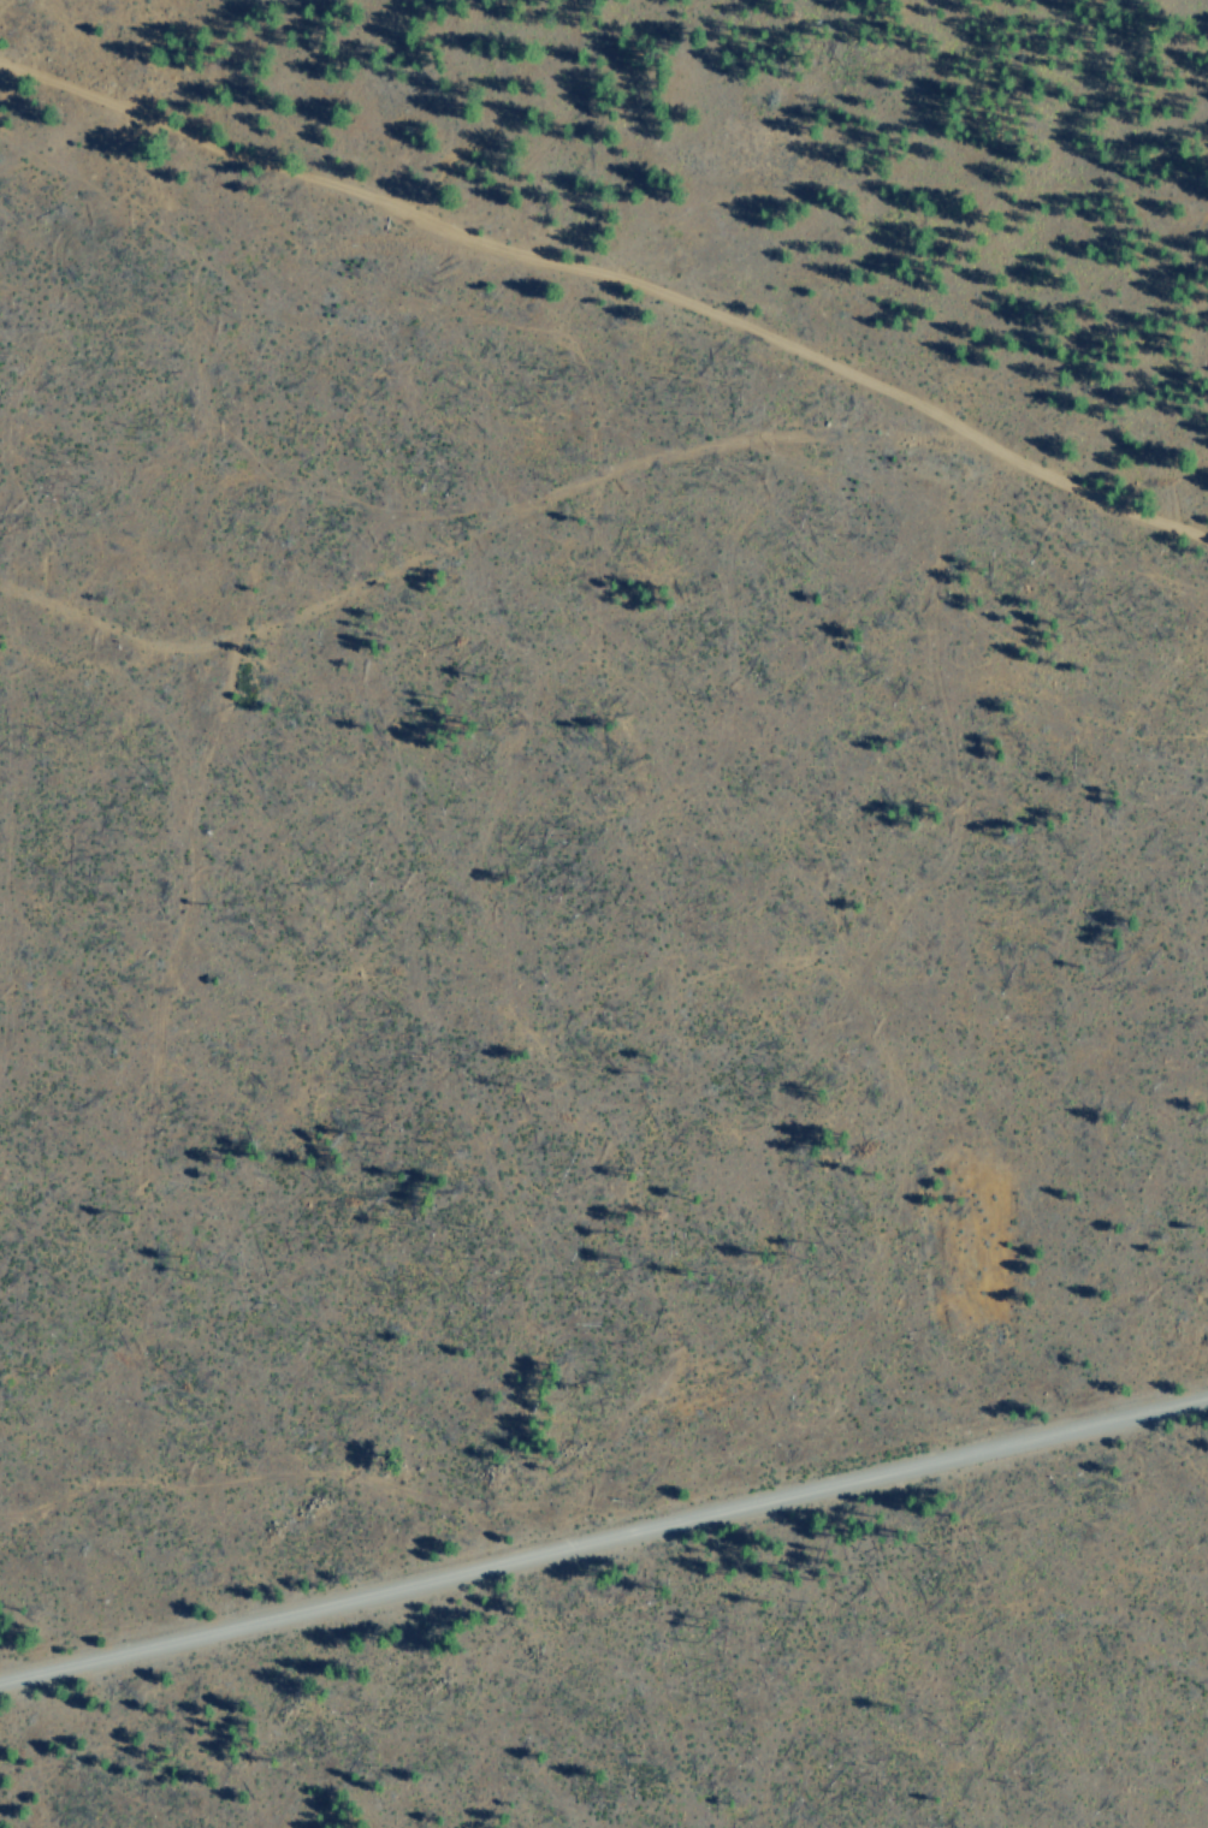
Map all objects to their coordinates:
road: (610, 485)
road: (602, 1460)

